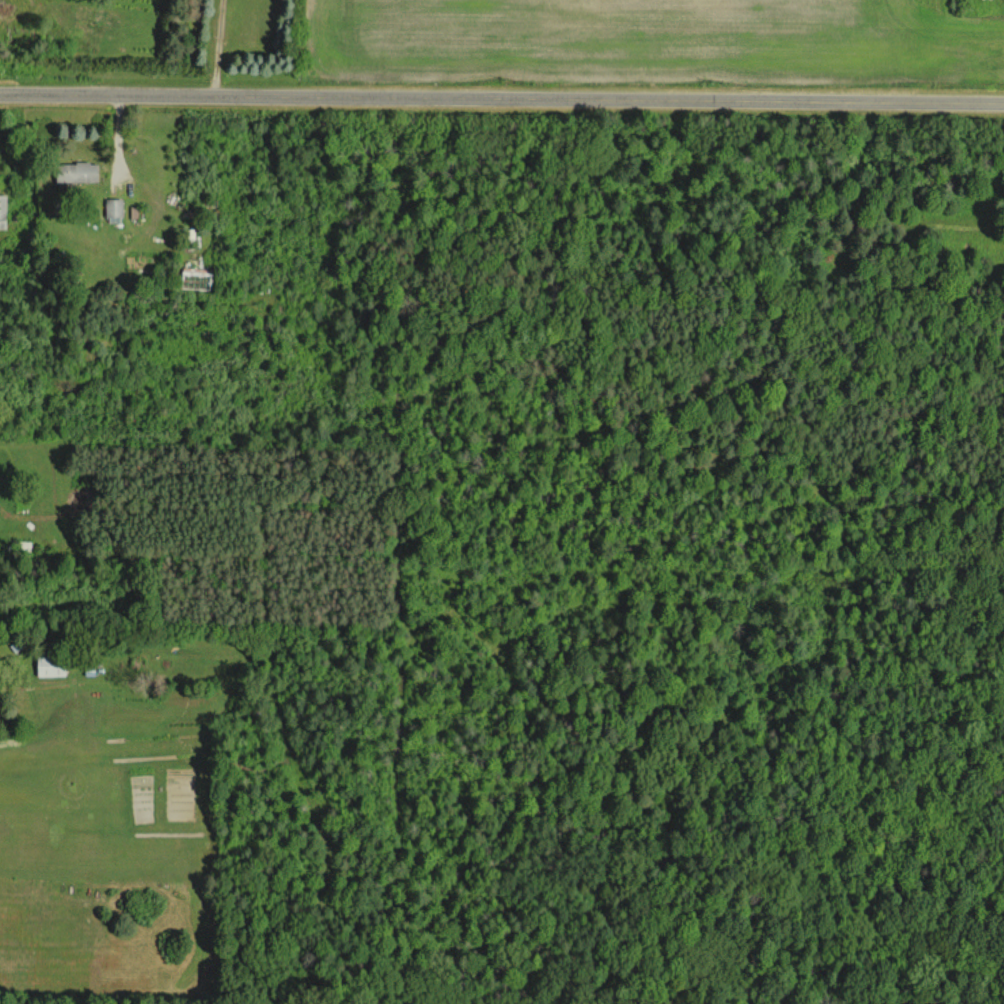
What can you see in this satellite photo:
road: (502, 100)
building: (75, 172)
building: (113, 208)
building: (2, 211)
building: (47, 666)

